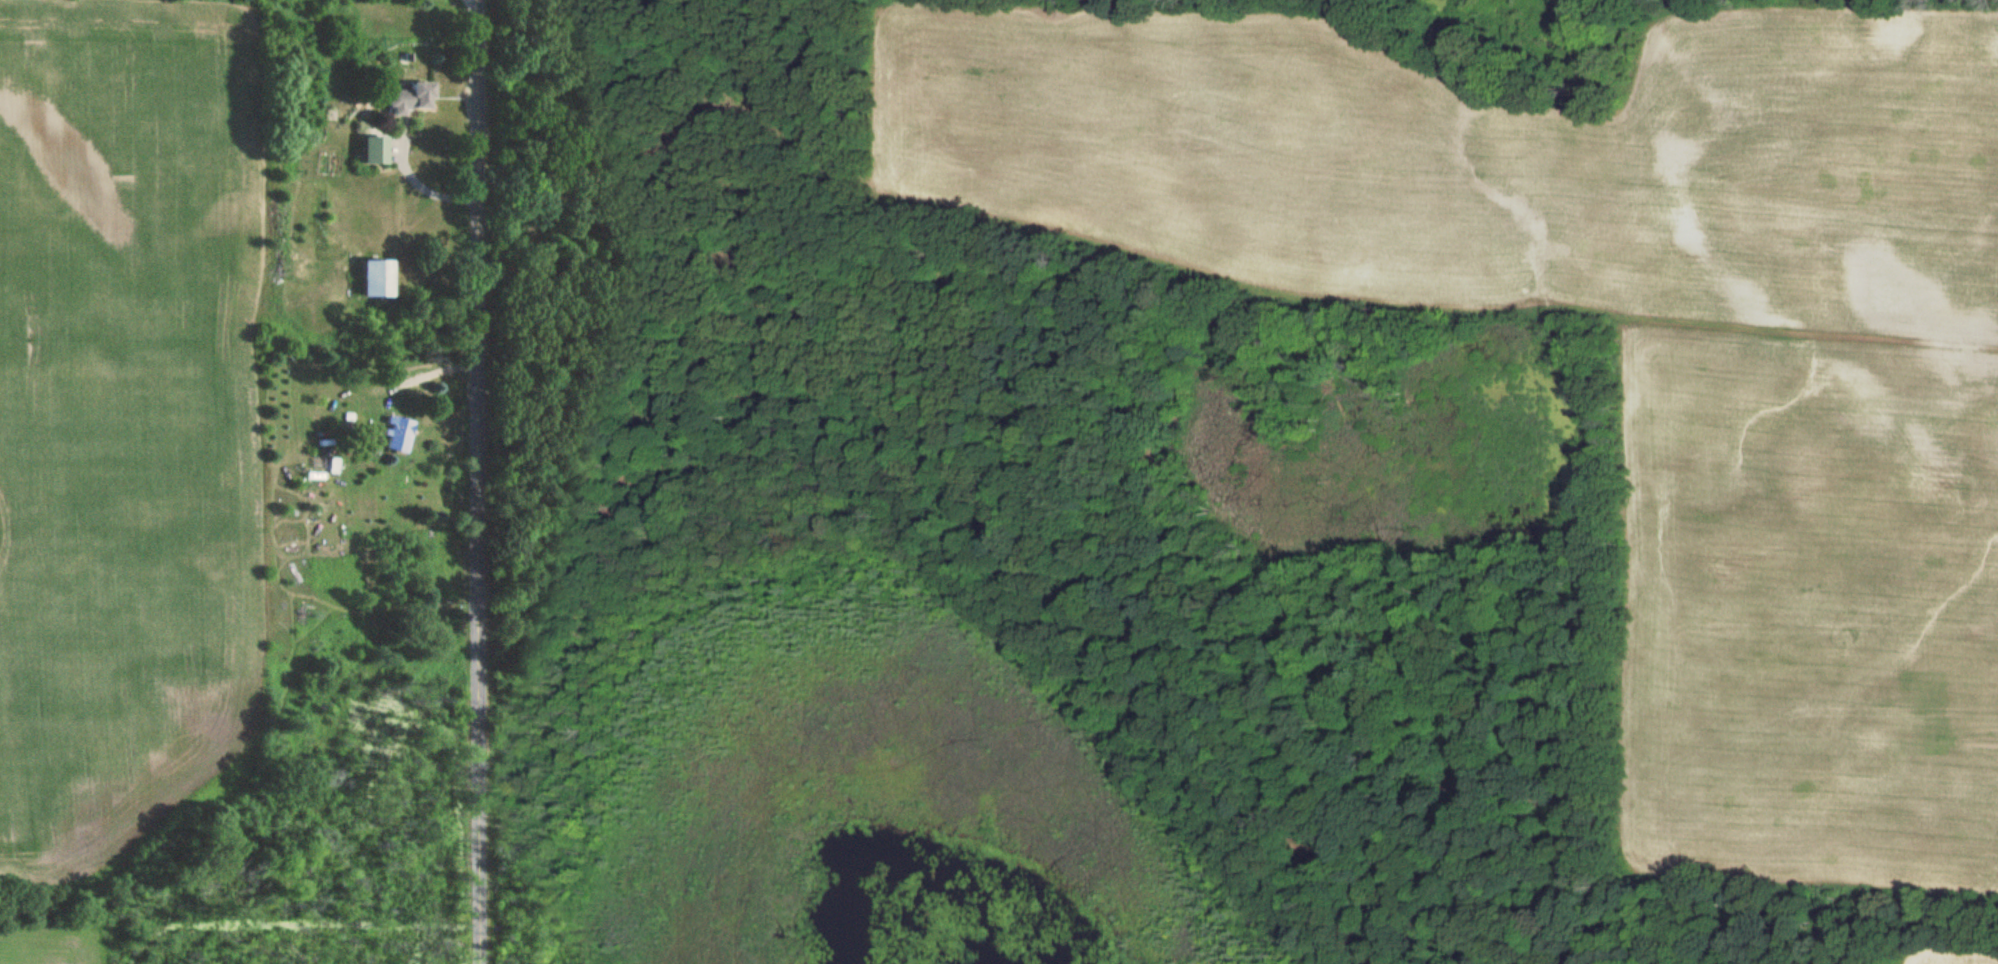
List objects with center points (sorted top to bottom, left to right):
building: (415, 98)
road: (423, 185)
building: (381, 279)
building: (402, 435)
building: (314, 476)
road: (475, 481)

